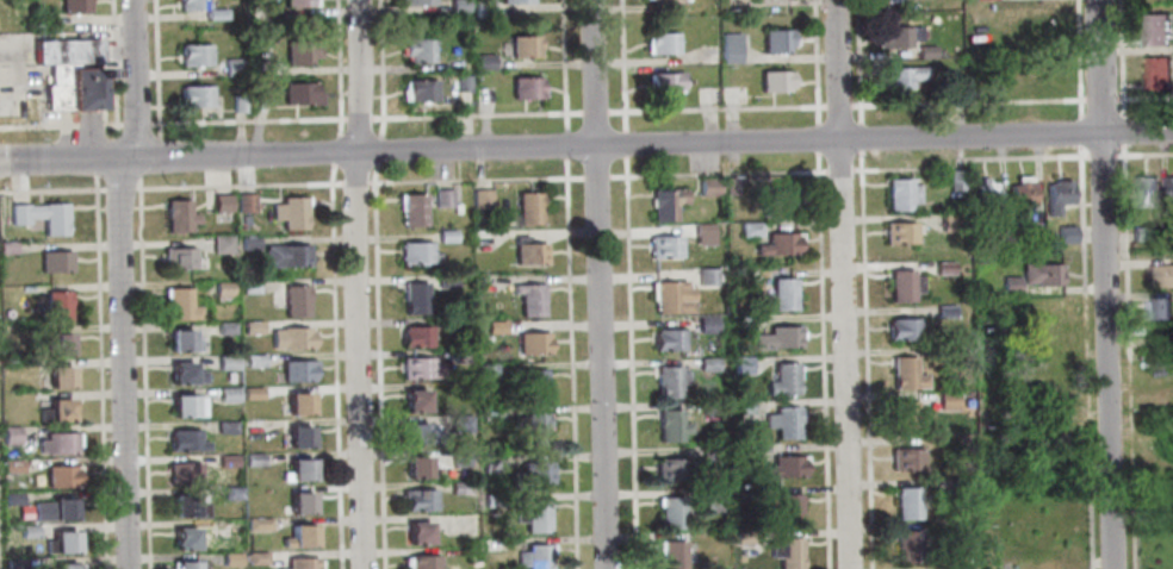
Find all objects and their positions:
building: (514, 1)
building: (663, 1)
building: (297, 2)
building: (416, 2)
building: (191, 5)
building: (75, 6)
building: (457, 6)
building: (480, 8)
building: (213, 14)
building: (1154, 30)
building: (893, 37)
building: (774, 40)
building: (659, 43)
building: (523, 46)
building: (728, 48)
building: (417, 49)
building: (299, 51)
building: (925, 52)
building: (193, 55)
road: (1121, 57)
road: (1078, 58)
building: (482, 61)
road: (856, 61)
road: (813, 62)
building: (259, 64)
road: (620, 64)
road: (563, 65)
road: (112, 68)
building: (231, 68)
road: (379, 68)
road: (154, 69)
road: (336, 69)
building: (72, 71)
building: (1155, 73)
building: (899, 76)
road: (134, 77)
building: (774, 81)
building: (664, 82)
building: (463, 83)
building: (525, 87)
building: (259, 90)
building: (420, 90)
building: (955, 90)
building: (298, 93)
building: (736, 94)
building: (193, 95)
road: (1143, 98)
road: (1099, 100)
road: (966, 102)
building: (237, 104)
road: (836, 106)
road: (714, 108)
road: (592, 112)
road: (474, 114)
road: (358, 118)
road: (246, 120)
road: (134, 124)
road: (60, 125)
road: (1122, 131)
road: (1079, 132)
road: (88, 136)
road: (858, 136)
road: (815, 138)
road: (622, 143)
road: (653, 144)
road: (565, 145)
road: (955, 148)
road: (376, 149)
road: (334, 150)
road: (1142, 154)
road: (104, 155)
road: (1100, 156)
road: (126, 157)
road: (149, 157)
road: (1020, 157)
road: (58, 158)
road: (956, 163)
road: (956, 168)
road: (904, 169)
road: (838, 170)
road: (715, 173)
road: (595, 176)
road: (473, 180)
building: (954, 180)
road: (354, 183)
road: (236, 185)
building: (708, 186)
building: (730, 186)
road: (118, 189)
road: (51, 190)
building: (1019, 190)
building: (1168, 190)
building: (1143, 192)
building: (982, 193)
building: (899, 194)
building: (1056, 195)
building: (442, 198)
building: (480, 199)
building: (219, 202)
building: (244, 202)
building: (776, 202)
building: (664, 204)
building: (527, 208)
building: (410, 210)
building: (288, 212)
building: (178, 215)
building: (38, 217)
building: (950, 223)
building: (702, 229)
building: (749, 229)
building: (898, 233)
building: (999, 233)
building: (1066, 233)
building: (1140, 233)
building: (1031, 235)
building: (445, 236)
building: (478, 236)
building: (778, 243)
building: (221, 244)
building: (249, 244)
building: (663, 246)
building: (5, 248)
road: (1124, 249)
building: (415, 254)
building: (528, 254)
building: (285, 255)
building: (175, 257)
building: (51, 261)
building: (942, 267)
building: (1038, 274)
building: (1159, 275)
building: (705, 276)
building: (445, 281)
road: (354, 283)
road: (842, 283)
road: (1105, 283)
road: (597, 284)
building: (1008, 284)
building: (902, 286)
building: (248, 287)
building: (222, 292)
building: (782, 294)
building: (669, 296)
building: (414, 298)
building: (528, 299)
building: (293, 301)
building: (178, 305)
building: (55, 306)
building: (1160, 309)
building: (944, 311)
building: (739, 321)
building: (706, 325)
building: (224, 327)
building: (250, 327)
building: (492, 327)
building: (902, 330)
building: (412, 336)
building: (288, 338)
building: (776, 338)
building: (665, 339)
building: (180, 340)
building: (530, 343)
building: (1161, 343)
building: (56, 344)
building: (459, 356)
road: (1085, 356)
road: (863, 358)
building: (252, 361)
road: (820, 361)
road: (628, 362)
road: (120, 363)
building: (225, 363)
road: (569, 363)
building: (706, 364)
road: (333, 365)
road: (377, 365)
building: (740, 365)
building: (418, 369)
road: (98, 370)
building: (296, 370)
building: (484, 370)
road: (142, 371)
building: (904, 373)
building: (182, 374)
building: (57, 377)
building: (781, 380)
building: (668, 381)
building: (527, 384)
building: (250, 393)
building: (226, 394)
building: (412, 400)
building: (945, 400)
building: (294, 404)
building: (185, 406)
building: (741, 407)
building: (708, 408)
building: (52, 412)
building: (488, 413)
building: (904, 418)
road: (1128, 420)
building: (782, 421)
building: (459, 424)
building: (669, 426)
building: (224, 427)
building: (530, 427)
building: (417, 434)
building: (8, 436)
building: (297, 436)
building: (181, 440)
building: (55, 444)
building: (740, 450)
building: (709, 452)
building: (459, 458)
building: (904, 458)
building: (252, 459)
building: (489, 461)
building: (10, 465)
building: (414, 467)
building: (784, 467)
building: (670, 469)
building: (297, 470)
building: (179, 473)
building: (60, 475)
building: (528, 475)
building: (958, 486)
building: (459, 488)
building: (229, 493)
building: (10, 500)
building: (417, 500)
building: (491, 500)
building: (710, 500)
building: (905, 502)
building: (298, 504)
building: (185, 506)
building: (50, 509)
building: (786, 509)
building: (20, 512)
building: (671, 513)
building: (532, 517)
building: (256, 524)
road: (1130, 527)
building: (25, 531)
building: (416, 533)
building: (297, 537)
building: (743, 537)
building: (182, 539)
building: (58, 543)
building: (905, 546)
building: (786, 552)
building: (669, 555)
building: (533, 557)
building: (229, 558)
building: (255, 558)
building: (421, 562)
building: (299, 563)
building: (11, 564)
building: (184, 565)
building: (61, 567)
building: (962, 568)

